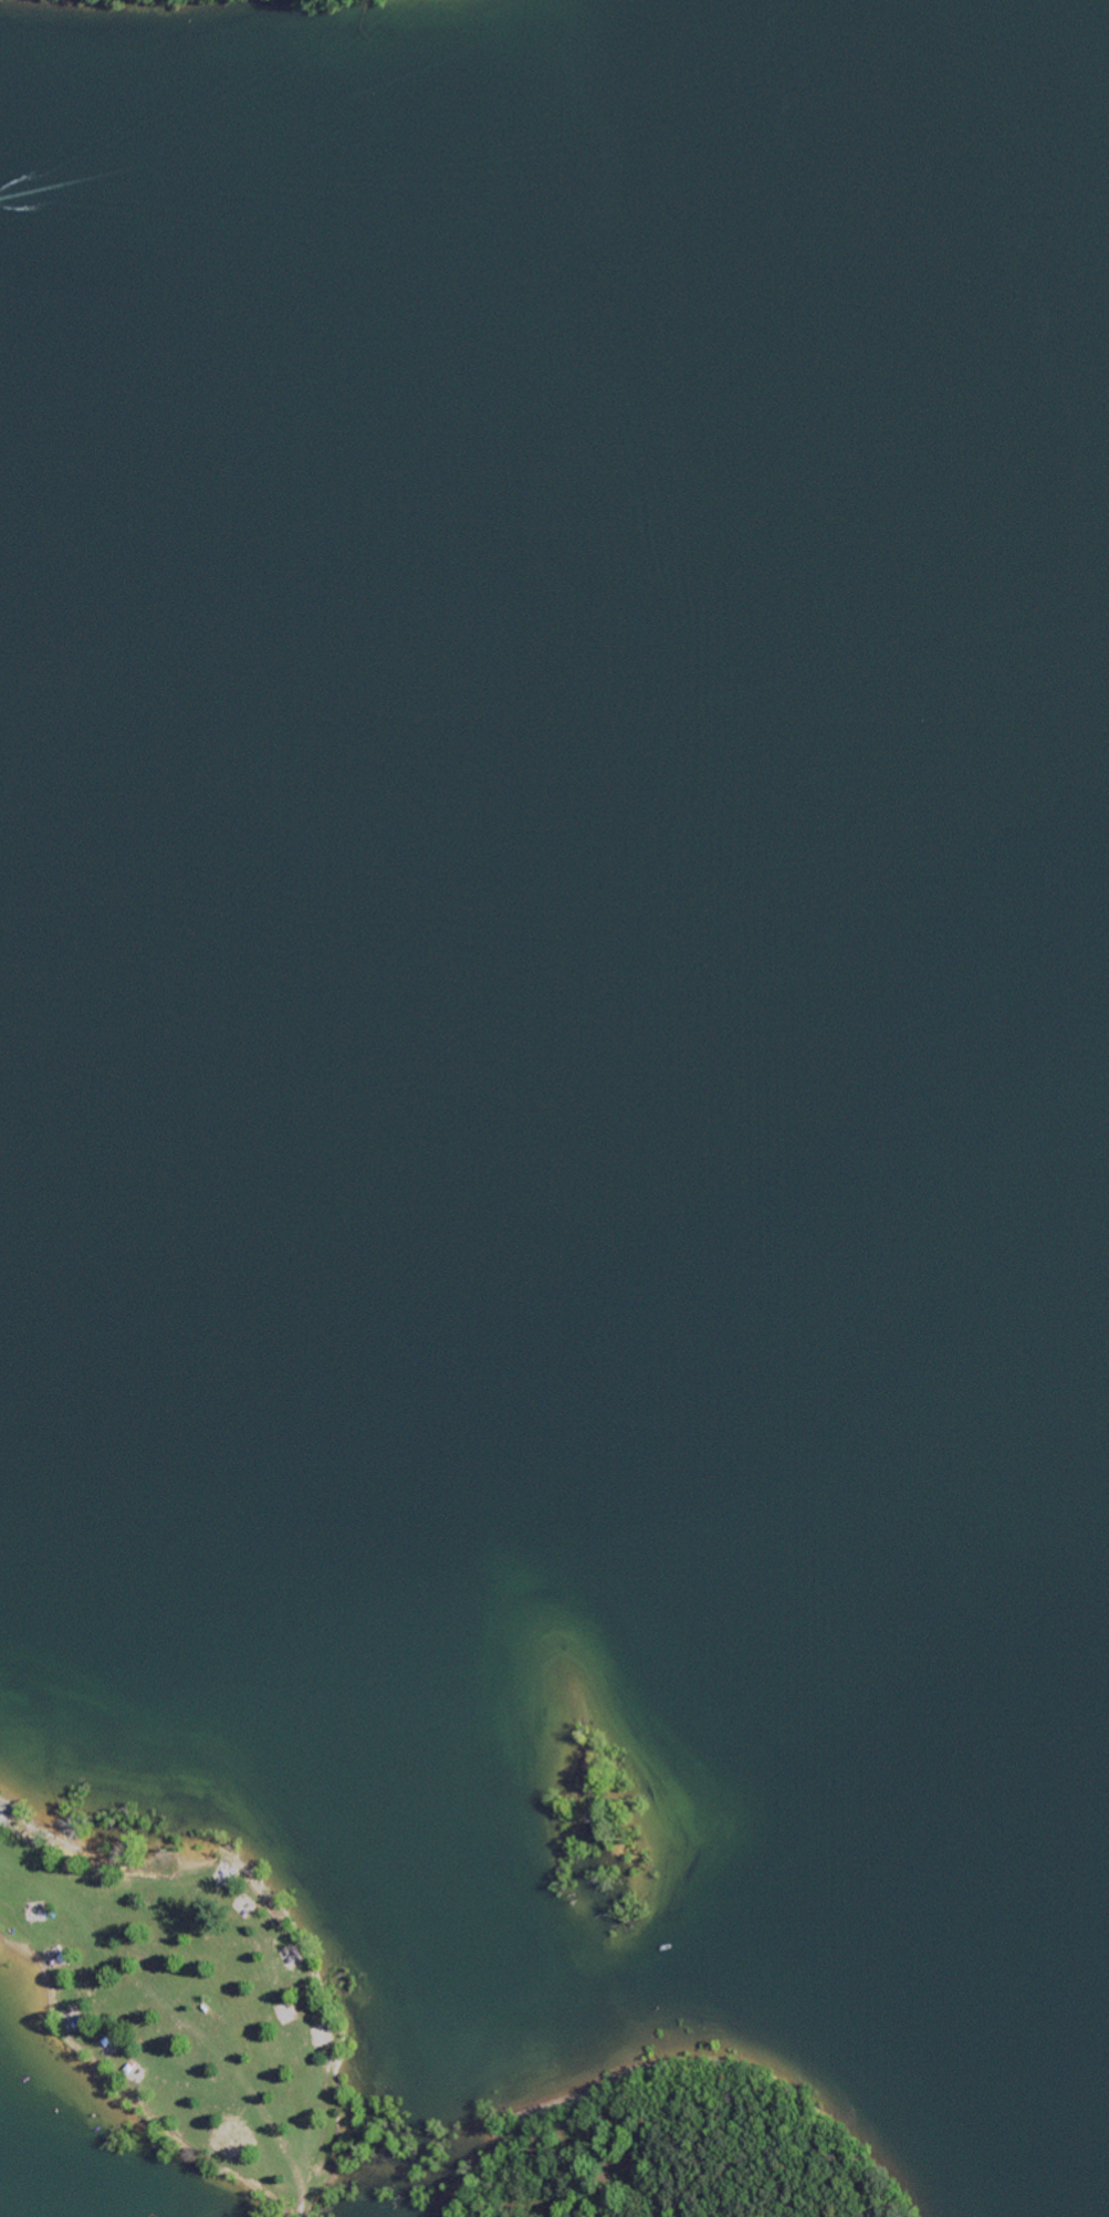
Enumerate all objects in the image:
river: (743, 474)
river: (553, 959)

